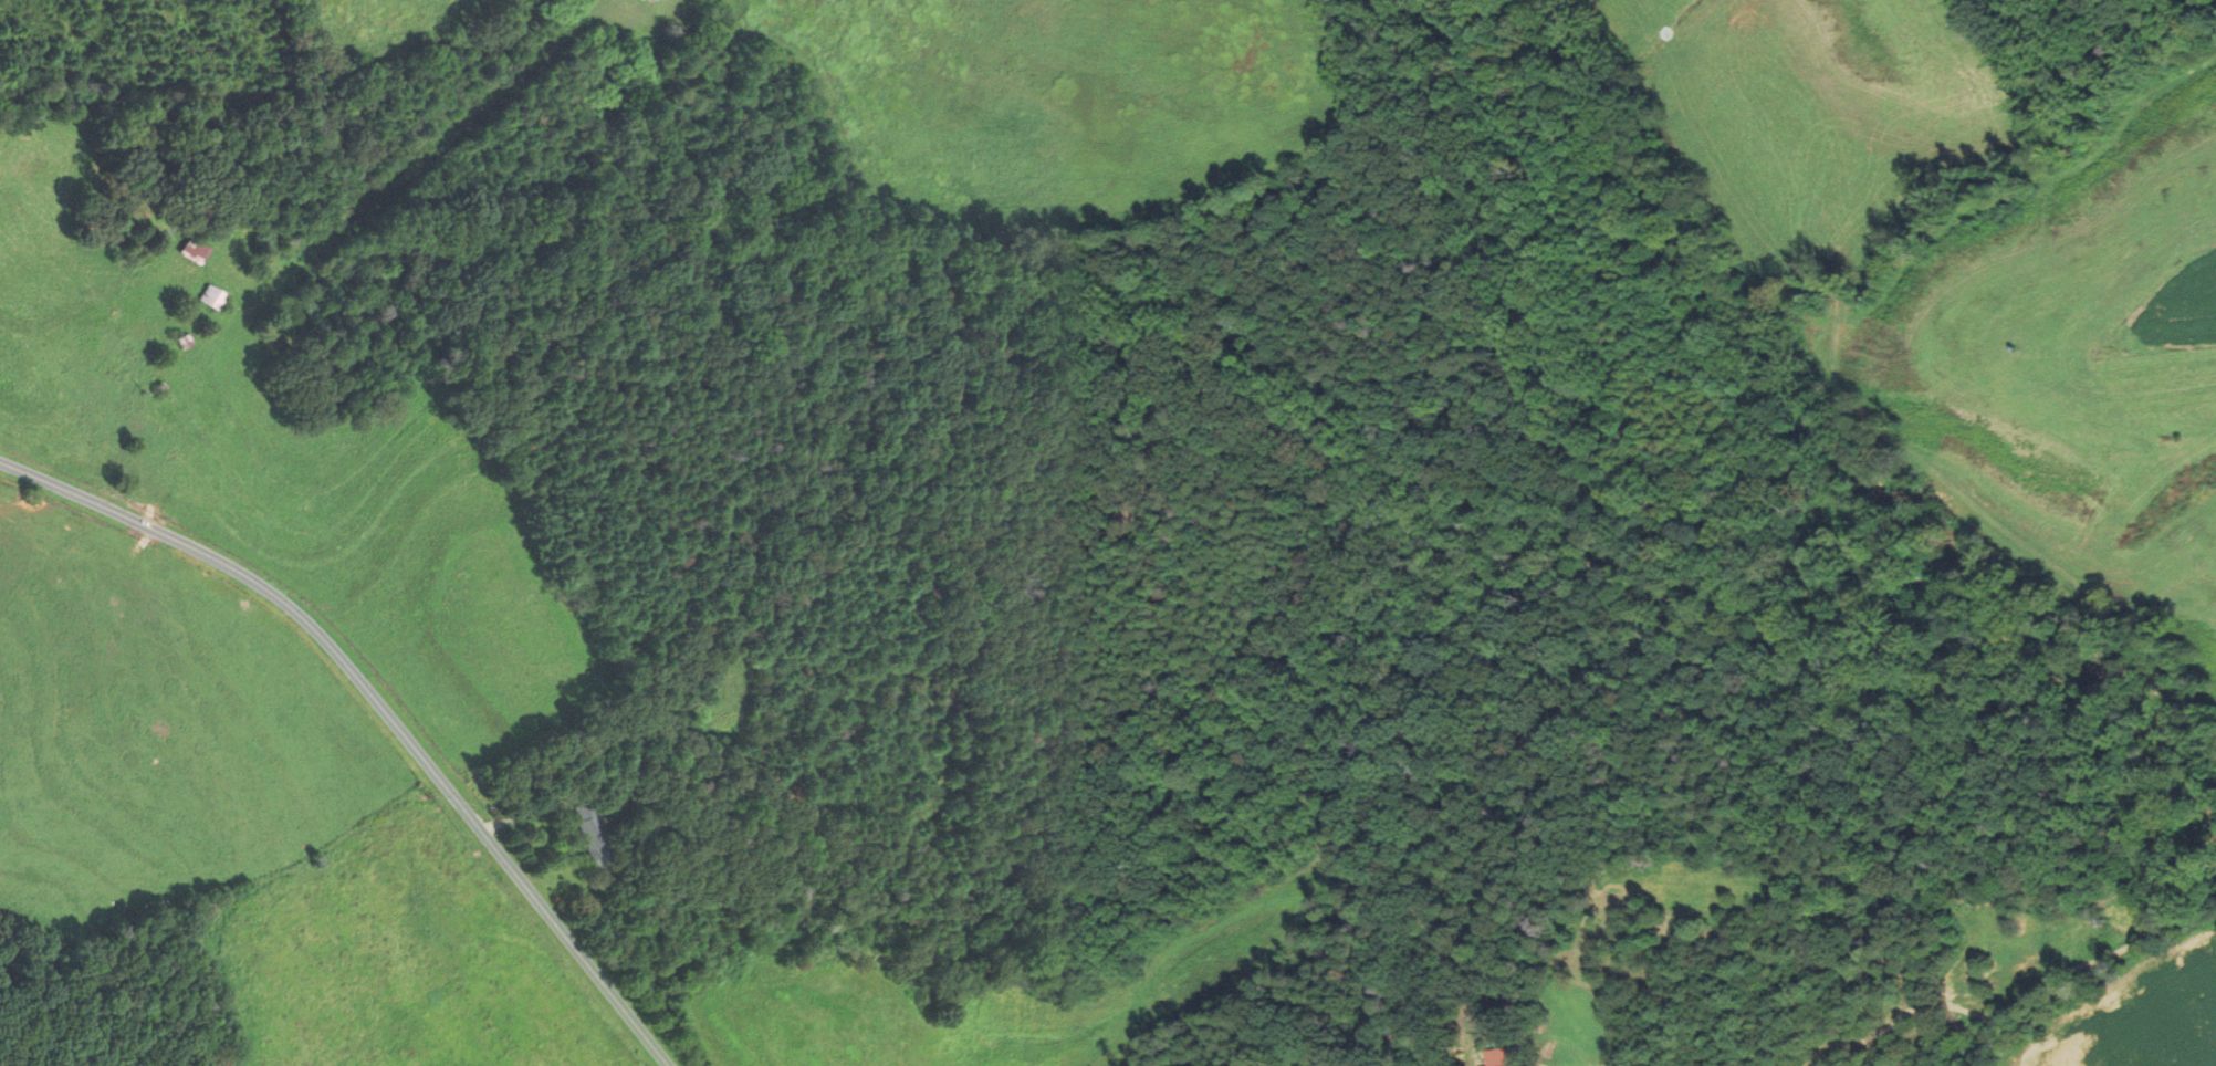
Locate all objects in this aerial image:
building: (194, 250)
building: (212, 297)
road: (379, 707)
building: (646, 821)
building: (594, 835)

